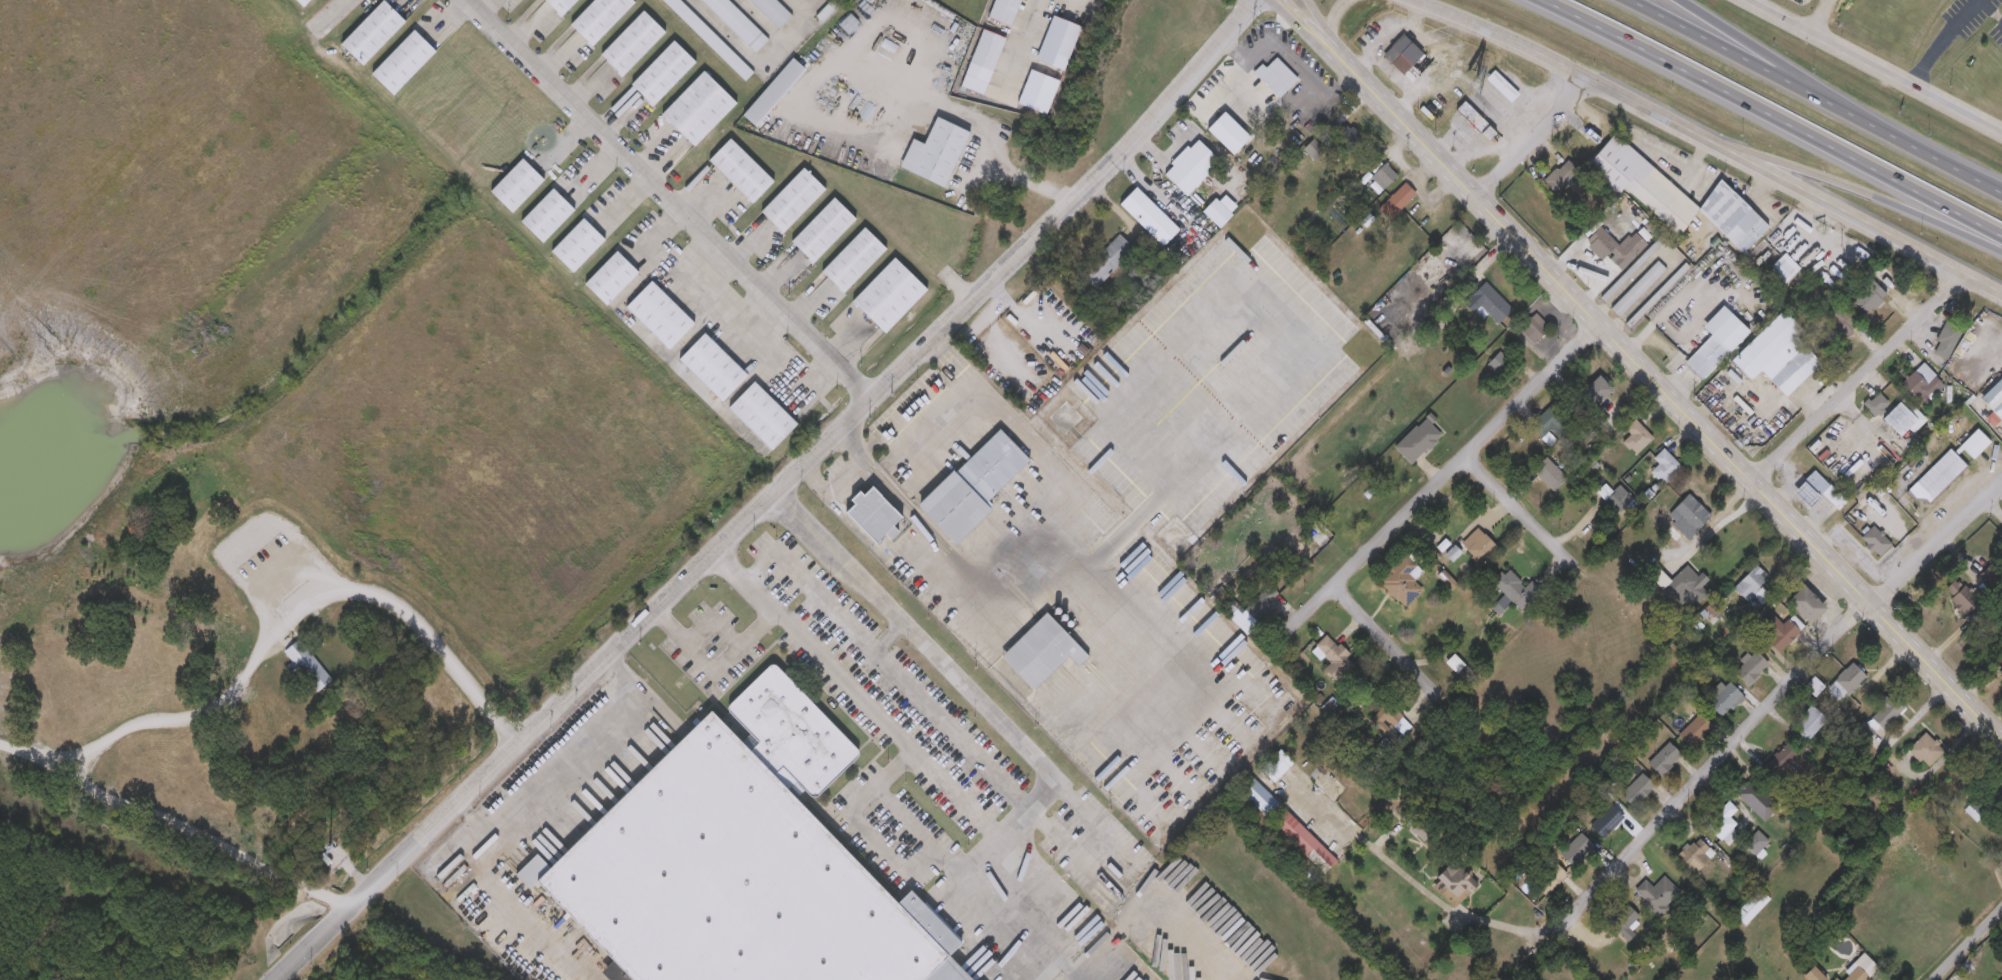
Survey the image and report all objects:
road: (1753, 2)
building: (302, 3)
building: (560, 6)
road: (1991, 10)
building: (827, 11)
building: (1004, 11)
road: (337, 12)
building: (773, 12)
road: (1822, 17)
building: (599, 19)
road: (1330, 22)
building: (737, 23)
road: (1298, 25)
road: (1307, 25)
road: (1315, 25)
building: (371, 34)
building: (709, 39)
road: (1941, 41)
road: (1014, 42)
building: (632, 44)
building: (987, 51)
building: (1402, 55)
road: (1294, 59)
building: (401, 63)
road: (759, 64)
road: (1872, 66)
road: (1757, 67)
road: (1784, 68)
road: (1570, 70)
building: (663, 74)
building: (1276, 79)
building: (1502, 87)
building: (772, 93)
building: (698, 109)
building: (1468, 114)
road: (1770, 116)
road: (987, 130)
building: (1348, 138)
road: (1535, 140)
building: (935, 153)
road: (1946, 163)
building: (1191, 169)
building: (740, 171)
building: (1561, 176)
building: (1384, 177)
building: (516, 187)
building: (1667, 193)
road: (1861, 198)
road: (665, 201)
building: (792, 201)
building: (1395, 203)
building: (546, 217)
road: (1861, 222)
building: (822, 231)
building: (576, 247)
building: (1615, 248)
building: (1440, 257)
building: (853, 261)
building: (1106, 262)
building: (1785, 269)
building: (609, 279)
building: (1637, 290)
building: (1610, 292)
building: (1658, 294)
building: (888, 296)
building: (1869, 296)
building: (1491, 303)
road: (1031, 315)
building: (658, 316)
building: (1840, 325)
building: (1534, 329)
building: (1947, 340)
building: (1777, 355)
building: (1707, 358)
building: (1500, 365)
building: (711, 368)
road: (1858, 380)
building: (1914, 383)
building: (1597, 391)
road: (1665, 395)
building: (1994, 399)
building: (1876, 404)
building: (761, 417)
building: (1548, 420)
building: (1636, 438)
building: (1418, 441)
building: (1974, 444)
building: (1665, 468)
road: (1442, 474)
building: (1549, 475)
building: (1937, 478)
building: (972, 487)
building: (1817, 492)
road: (770, 497)
building: (1616, 498)
road: (1995, 507)
road: (1515, 510)
building: (872, 516)
building: (1689, 518)
road: (1713, 528)
building: (1318, 538)
building: (1875, 540)
building: (1480, 547)
road: (1937, 547)
building: (1402, 582)
road: (1011, 586)
building: (1684, 586)
building: (1753, 586)
building: (1513, 593)
road: (819, 598)
road: (277, 601)
building: (1805, 605)
building: (271, 632)
building: (1779, 633)
road: (1379, 635)
building: (297, 644)
building: (1041, 652)
crop: (192, 653)
building: (1333, 657)
road: (943, 659)
road: (711, 665)
building: (1752, 669)
building: (1849, 681)
building: (1814, 687)
road: (854, 696)
building: (1724, 700)
road: (936, 714)
building: (1886, 714)
building: (1396, 721)
building: (1811, 722)
road: (511, 726)
building: (1696, 730)
building: (790, 732)
building: (1925, 751)
building: (1663, 760)
building: (1782, 761)
road: (1712, 762)
building: (1276, 767)
building: (1636, 791)
building: (1748, 793)
building: (1258, 797)
road: (526, 814)
building: (1411, 817)
road: (173, 820)
building: (1606, 823)
building: (1723, 824)
road: (928, 833)
road: (1072, 836)
building: (1304, 842)
building: (1756, 844)
building: (1576, 852)
building: (1695, 855)
building: (1548, 876)
building: (718, 881)
road: (1415, 883)
building: (463, 885)
building: (1450, 887)
building: (1657, 896)
building: (1752, 908)
building: (1624, 924)
road: (1968, 944)
building: (1860, 969)
building: (1836, 979)

